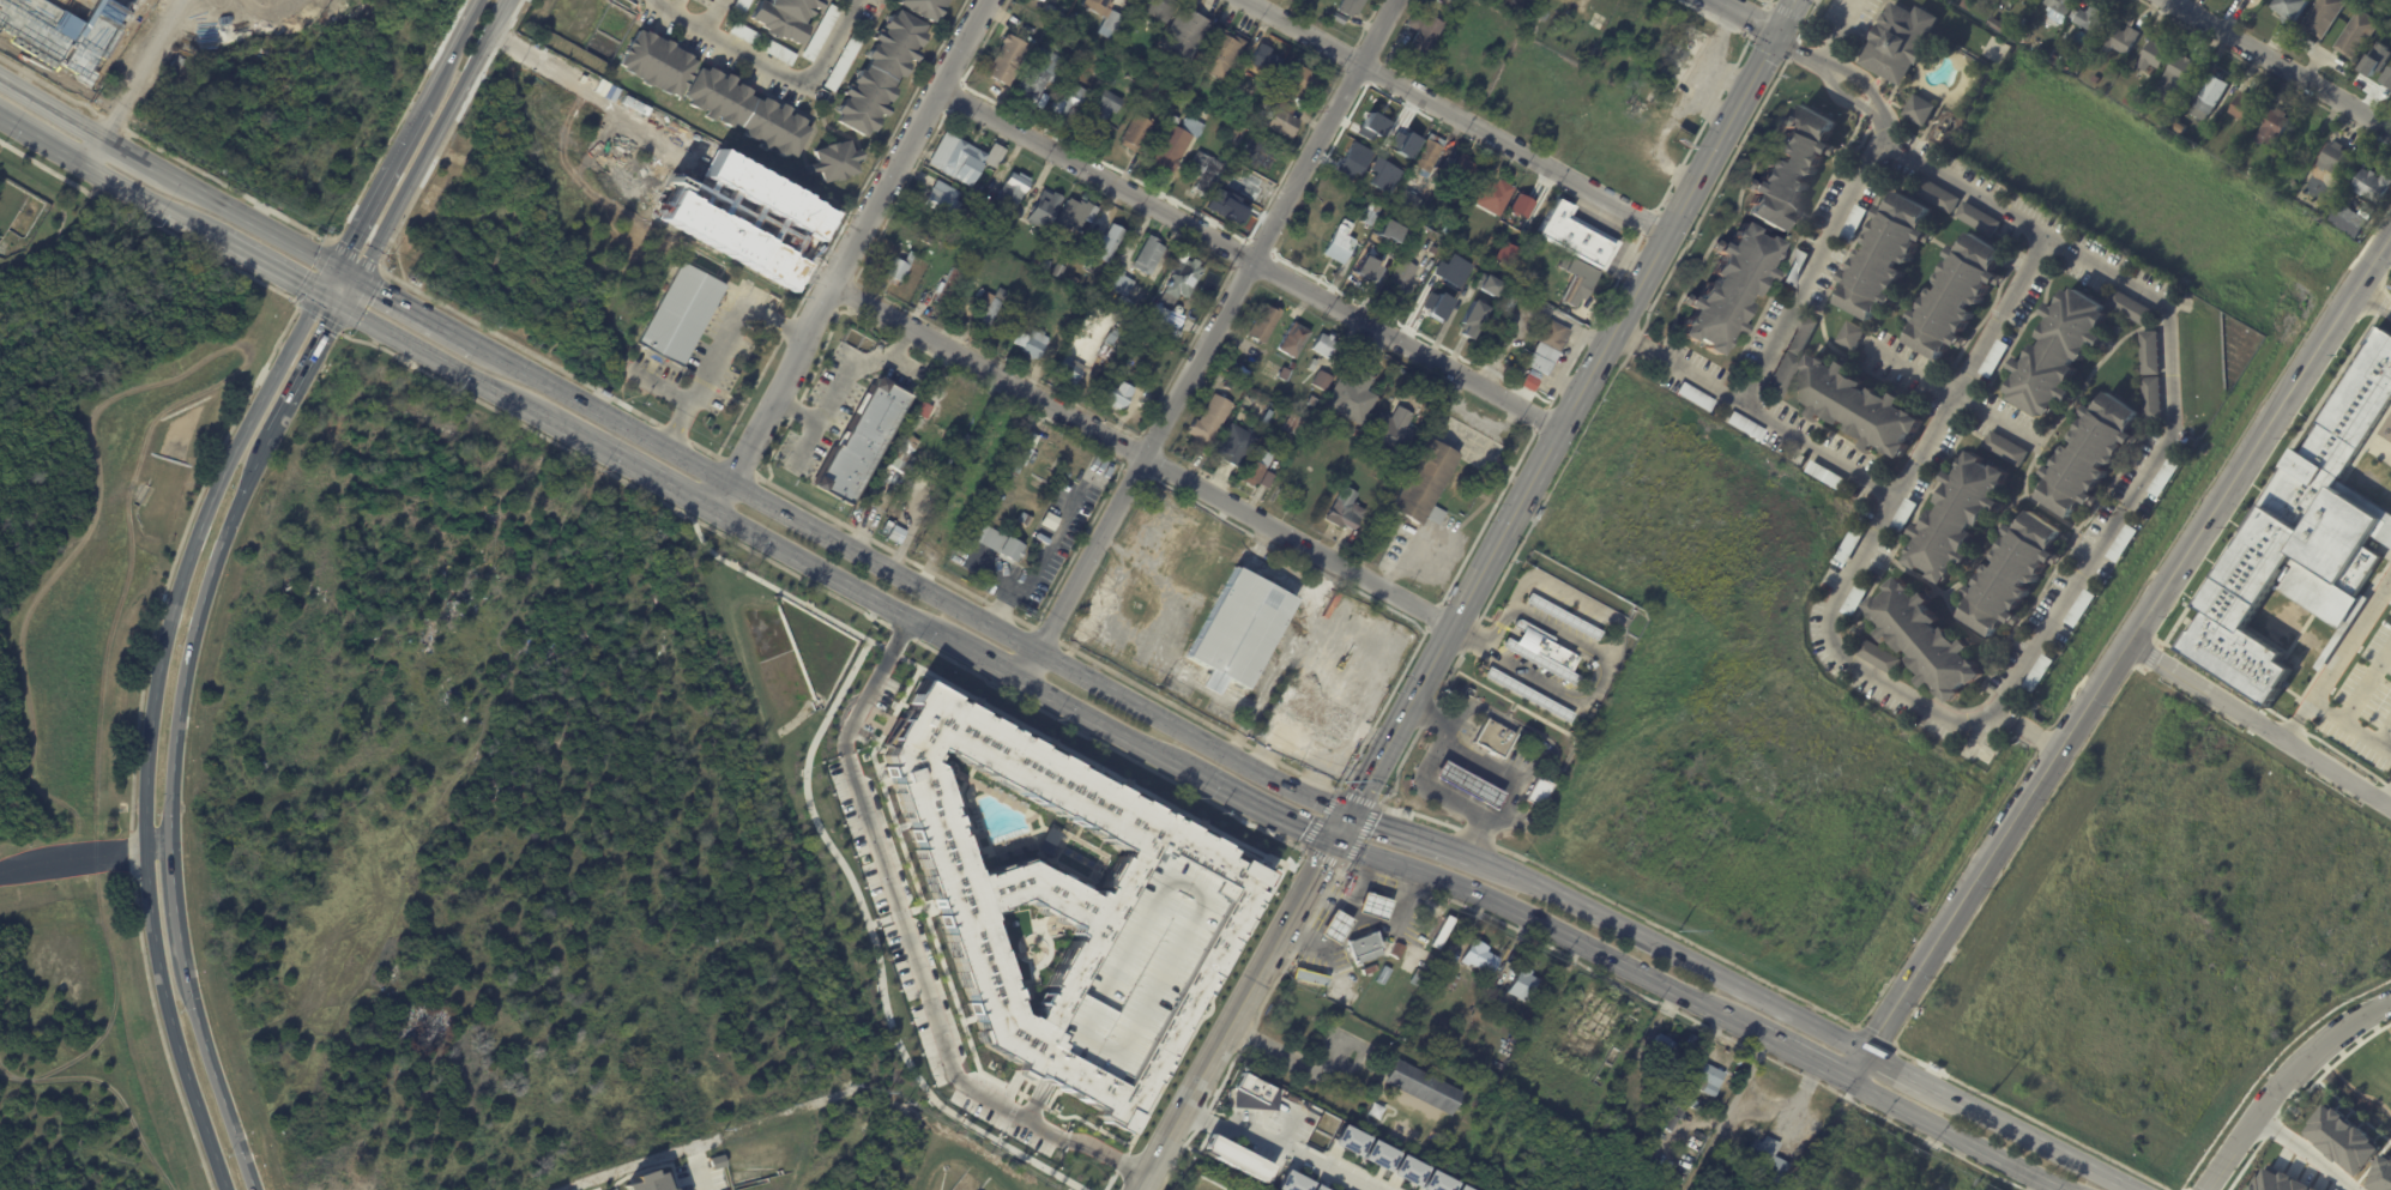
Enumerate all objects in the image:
building: (1043, 0)
building: (2252, 0)
building: (1966, 2)
building: (2061, 5)
road: (669, 6)
building: (1097, 6)
building: (741, 7)
building: (924, 8)
building: (1161, 8)
building: (2292, 8)
building: (1347, 10)
building: (2023, 12)
road: (1745, 14)
road: (1780, 14)
road: (713, 16)
building: (1056, 16)
building: (2323, 17)
building: (785, 18)
building: (1134, 19)
building: (1071, 20)
building: (2093, 20)
building: (1995, 23)
building: (1110, 24)
building: (65, 31)
road: (1840, 32)
building: (821, 34)
building: (1424, 34)
building: (745, 35)
building: (1185, 35)
building: (2010, 35)
building: (2357, 36)
road: (453, 40)
building: (2119, 40)
building: (1895, 41)
road: (1803, 53)
building: (2385, 53)
building: (779, 54)
building: (1220, 54)
building: (2152, 55)
building: (2055, 58)
building: (1266, 61)
building: (1009, 62)
building: (844, 64)
road: (2280, 64)
road: (767, 65)
building: (660, 67)
building: (1679, 68)
building: (2377, 68)
building: (881, 74)
building: (1041, 75)
road: (1860, 78)
building: (2097, 79)
building: (2175, 80)
building: (1302, 81)
road: (134, 85)
building: (2141, 93)
building: (1169, 95)
road: (1846, 95)
building: (2210, 98)
building: (2130, 99)
building: (1068, 102)
building: (1103, 103)
building: (1184, 104)
building: (1267, 104)
road: (53, 105)
building: (2242, 107)
building: (1919, 109)
building: (2148, 111)
building: (1602, 113)
building: (1236, 114)
road: (1455, 114)
building: (747, 115)
building: (1261, 115)
building: (1371, 119)
building: (1284, 120)
road: (410, 121)
building: (1252, 125)
building: (2180, 127)
building: (2272, 128)
building: (2214, 132)
building: (1136, 134)
building: (1233, 135)
building: (1401, 137)
building: (2193, 138)
road: (436, 139)
road: (44, 144)
building: (1173, 144)
building: (2298, 146)
building: (1251, 150)
building: (1429, 155)
road: (140, 156)
building: (2332, 157)
building: (958, 161)
building: (835, 163)
building: (1791, 167)
building: (1462, 169)
building: (1204, 174)
building: (2371, 186)
building: (979, 189)
building: (1388, 189)
building: (1013, 194)
building: (1495, 195)
building: (1937, 195)
building: (1407, 200)
building: (944, 201)
road: (151, 204)
building: (1237, 205)
building: (1524, 206)
building: (1045, 210)
road: (2005, 210)
road: (362, 212)
building: (1370, 213)
building: (1979, 218)
road: (254, 219)
building: (1075, 219)
building: (2347, 221)
building: (1852, 223)
building: (1448, 229)
building: (1014, 231)
building: (1385, 231)
building: (985, 232)
building: (1578, 235)
building: (926, 240)
building: (1109, 240)
building: (1463, 240)
building: (1341, 242)
road: (847, 254)
road: (1248, 255)
building: (1508, 258)
building: (1886, 258)
building: (1152, 259)
traffic signals: (336, 264)
road: (265, 266)
building: (1046, 266)
building: (1793, 267)
road: (1812, 267)
building: (1364, 268)
road: (348, 271)
building: (899, 271)
building: (1059, 272)
traffic signals: (361, 278)
building: (1401, 278)
road: (326, 279)
building: (1582, 279)
building: (1183, 283)
building: (1492, 283)
building: (947, 286)
building: (1728, 290)
building: (1118, 291)
road: (351, 294)
traffic signals: (318, 295)
building: (1439, 295)
building: (1956, 296)
road: (2375, 297)
building: (1510, 300)
road: (330, 302)
building: (972, 302)
building: (1142, 307)
building: (2130, 307)
traffic signals: (343, 309)
building: (989, 309)
road: (421, 310)
building: (683, 315)
building: (1474, 318)
building: (1160, 322)
building: (1266, 324)
building: (1062, 326)
building: (1492, 328)
road: (1622, 336)
building: (1850, 336)
building: (1800, 337)
road: (1209, 340)
building: (1294, 340)
road: (721, 344)
building: (1034, 344)
building: (1326, 345)
building: (1105, 348)
building: (1550, 348)
building: (2059, 351)
building: (1130, 352)
building: (2150, 352)
building: (1993, 357)
road: (434, 358)
building: (1128, 362)
building: (1312, 364)
road: (309, 367)
building: (1070, 369)
building: (1286, 373)
road: (1687, 374)
building: (1780, 375)
road: (841, 379)
building: (1322, 380)
road: (1954, 394)
building: (905, 395)
building: (1117, 397)
building: (1352, 397)
building: (1691, 397)
building: (2152, 398)
building: (1311, 401)
building: (1856, 406)
road: (1558, 419)
building: (1210, 421)
building: (1293, 424)
building: (1743, 427)
building: (1391, 435)
building: (861, 441)
building: (1236, 445)
building: (2005, 449)
road: (1819, 451)
building: (1020, 455)
road: (1139, 455)
building: (902, 457)
building: (2089, 457)
road: (620, 460)
building: (1255, 467)
building: (886, 471)
building: (1824, 475)
building: (973, 476)
building: (2163, 478)
building: (1263, 479)
building: (932, 481)
building: (1425, 485)
building: (874, 488)
building: (1345, 511)
building: (867, 515)
building: (1960, 515)
building: (1901, 517)
building: (1025, 521)
building: (949, 531)
building: (2307, 531)
building: (1043, 534)
building: (1848, 544)
building: (2123, 544)
building: (1003, 548)
road: (1239, 558)
road: (820, 569)
road: (1157, 569)
building: (2013, 575)
road: (1034, 576)
road: (2389, 578)
road: (911, 580)
road: (1577, 594)
building: (1854, 598)
road: (1109, 602)
building: (2079, 610)
building: (1565, 616)
road: (2362, 620)
building: (1599, 623)
building: (1239, 630)
road: (195, 632)
building: (1925, 640)
road: (1463, 642)
road: (2129, 645)
road: (1406, 647)
road: (1142, 652)
building: (1545, 652)
road: (1601, 652)
road: (973, 654)
building: (1878, 657)
railway: (1037, 669)
building: (2037, 673)
road: (2325, 681)
building: (1530, 695)
road: (1910, 696)
road: (2009, 714)
building: (1312, 717)
road: (1427, 720)
road: (2300, 720)
road: (2347, 723)
road: (2260, 724)
road: (1107, 726)
road: (151, 730)
road: (2040, 735)
road: (2385, 736)
building: (1495, 739)
road: (1279, 749)
road: (2385, 749)
road: (1327, 751)
building: (1975, 753)
road: (1480, 762)
building: (1471, 785)
road: (1437, 792)
building: (1541, 792)
road: (2390, 801)
road: (1260, 808)
traffic signals: (1346, 810)
road: (1495, 818)
road: (1338, 824)
road: (1409, 830)
traffic signals: (1329, 840)
road: (159, 852)
building: (1034, 862)
road: (72, 864)
road: (177, 907)
building: (1376, 907)
road: (1511, 907)
road: (1375, 924)
building: (1338, 928)
building: (1429, 931)
building: (1443, 932)
road: (905, 942)
building: (1364, 944)
road: (1671, 949)
building: (1396, 955)
building: (1481, 958)
building: (1384, 975)
building: (1312, 979)
building: (1421, 979)
building: (1448, 979)
building: (1523, 985)
building: (1496, 1005)
building: (1172, 1011)
road: (1234, 1015)
road: (1767, 1037)
building: (1692, 1043)
building: (1667, 1047)
road: (1288, 1057)
road: (1858, 1064)
road: (1907, 1071)
road: (219, 1077)
building: (1644, 1077)
road: (2282, 1079)
building: (1713, 1080)
building: (1421, 1087)
building: (1252, 1095)
building: (1686, 1098)
building: (1652, 1105)
building: (1673, 1117)
road: (1956, 1134)
building: (2342, 1138)
road: (1282, 1141)
road: (2042, 1141)
building: (1342, 1142)
road: (2302, 1152)
building: (1371, 1156)
building: (1232, 1158)
building: (1768, 1161)
building: (1399, 1171)
building: (2381, 1176)
road: (700, 1177)
building: (2280, 1180)
building: (645, 1182)
building: (1285, 1182)
building: (1427, 1183)
building: (1309, 1188)
building: (1450, 1188)

